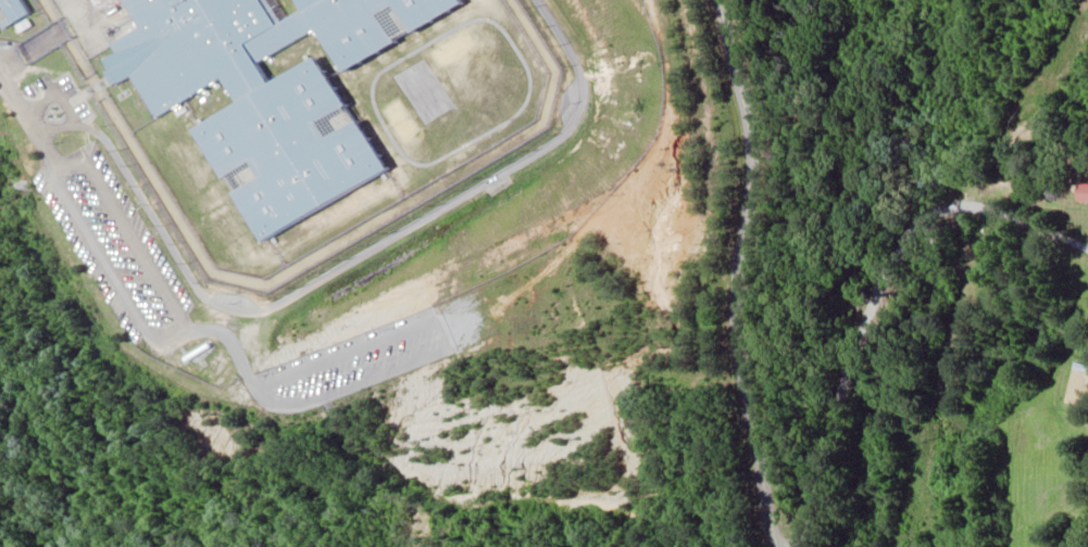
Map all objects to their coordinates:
building: (20, 9)
building: (270, 90)
road: (68, 107)
road: (30, 110)
building: (1084, 192)
road: (349, 258)
road: (751, 272)
road: (182, 325)
road: (893, 332)

